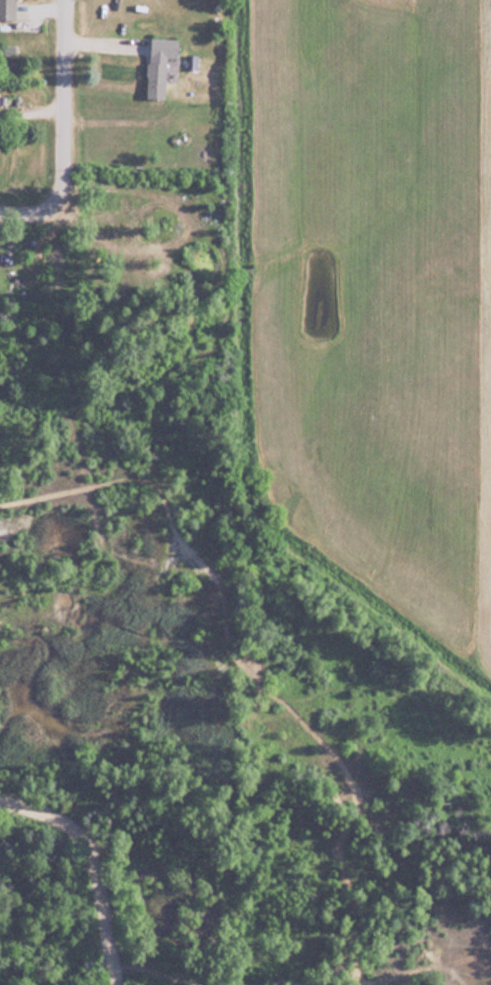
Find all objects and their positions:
building: (9, 8)
building: (160, 64)
road: (65, 132)
road: (57, 954)

